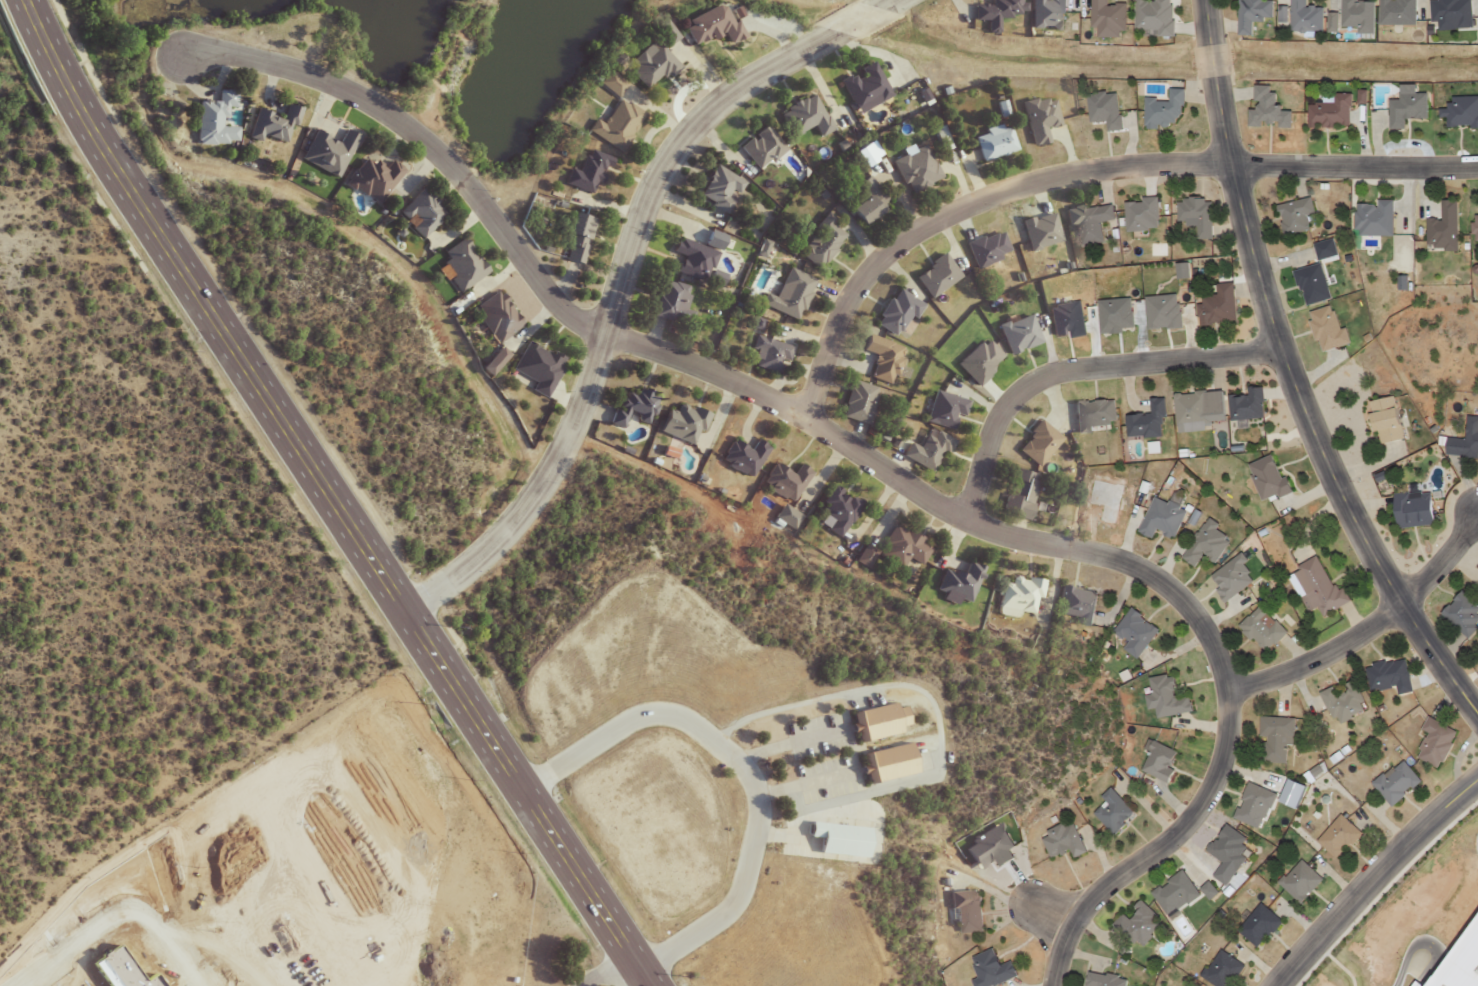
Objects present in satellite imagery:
building: (991, 12)
building: (1394, 12)
building: (1447, 12)
building: (1282, 13)
building: (1043, 14)
building: (1249, 14)
building: (1356, 15)
building: (1152, 16)
building: (1302, 17)
building: (1106, 18)
building: (1332, 21)
building: (707, 24)
building: (647, 64)
building: (861, 86)
building: (1001, 107)
building: (1404, 108)
building: (1101, 109)
building: (1264, 109)
building: (1161, 110)
building: (1460, 111)
building: (1328, 112)
building: (801, 117)
building: (1037, 118)
building: (211, 120)
building: (614, 125)
building: (269, 126)
building: (990, 142)
building: (759, 147)
building: (325, 152)
building: (866, 152)
building: (913, 169)
road: (1079, 171)
building: (584, 173)
building: (369, 178)
building: (716, 189)
building: (863, 202)
building: (418, 213)
building: (1141, 214)
building: (1193, 214)
building: (1292, 215)
building: (1371, 218)
building: (1086, 221)
building: (1441, 227)
building: (1473, 227)
building: (1039, 231)
building: (574, 237)
building: (713, 239)
building: (817, 241)
building: (985, 248)
building: (1321, 249)
building: (691, 260)
building: (1402, 261)
building: (457, 266)
building: (1181, 269)
building: (933, 276)
road: (618, 279)
building: (1308, 284)
building: (786, 295)
building: (670, 303)
building: (1214, 305)
building: (1162, 310)
building: (892, 313)
building: (1114, 314)
building: (494, 317)
building: (1066, 318)
building: (1324, 328)
building: (1016, 335)
building: (764, 354)
building: (879, 358)
building: (980, 360)
building: (489, 361)
road: (705, 367)
building: (534, 368)
road: (1077, 369)
road: (1292, 374)
building: (855, 402)
building: (1247, 404)
building: (630, 406)
building: (941, 409)
building: (1188, 411)
building: (1090, 414)
building: (1383, 419)
building: (1144, 421)
building: (679, 423)
building: (1463, 440)
building: (1035, 443)
building: (923, 450)
building: (741, 457)
building: (1264, 478)
building: (782, 482)
building: (1016, 493)
road: (327, 496)
building: (1410, 509)
building: (835, 510)
building: (790, 511)
building: (1159, 517)
building: (1204, 544)
building: (899, 547)
building: (863, 557)
building: (1229, 577)
building: (957, 582)
building: (1314, 587)
building: (1017, 597)
building: (1073, 604)
building: (1459, 614)
road: (1373, 625)
building: (1260, 628)
building: (1132, 632)
building: (1386, 676)
building: (1163, 697)
building: (1340, 703)
building: (875, 722)
building: (1273, 738)
building: (1432, 741)
building: (1155, 760)
building: (885, 763)
road: (743, 767)
building: (1393, 782)
building: (1291, 792)
building: (1251, 805)
building: (1109, 811)
building: (1335, 837)
building: (838, 838)
building: (1059, 840)
building: (990, 846)
building: (1224, 847)
road: (1155, 848)
road: (1372, 878)
building: (1296, 880)
building: (1208, 889)
building: (1172, 893)
building: (964, 912)
building: (1135, 925)
building: (1256, 925)
road: (1427, 942)
building: (1459, 960)
building: (987, 969)
building: (1219, 970)
road: (621, 977)
building: (1100, 979)
building: (1416, 983)

